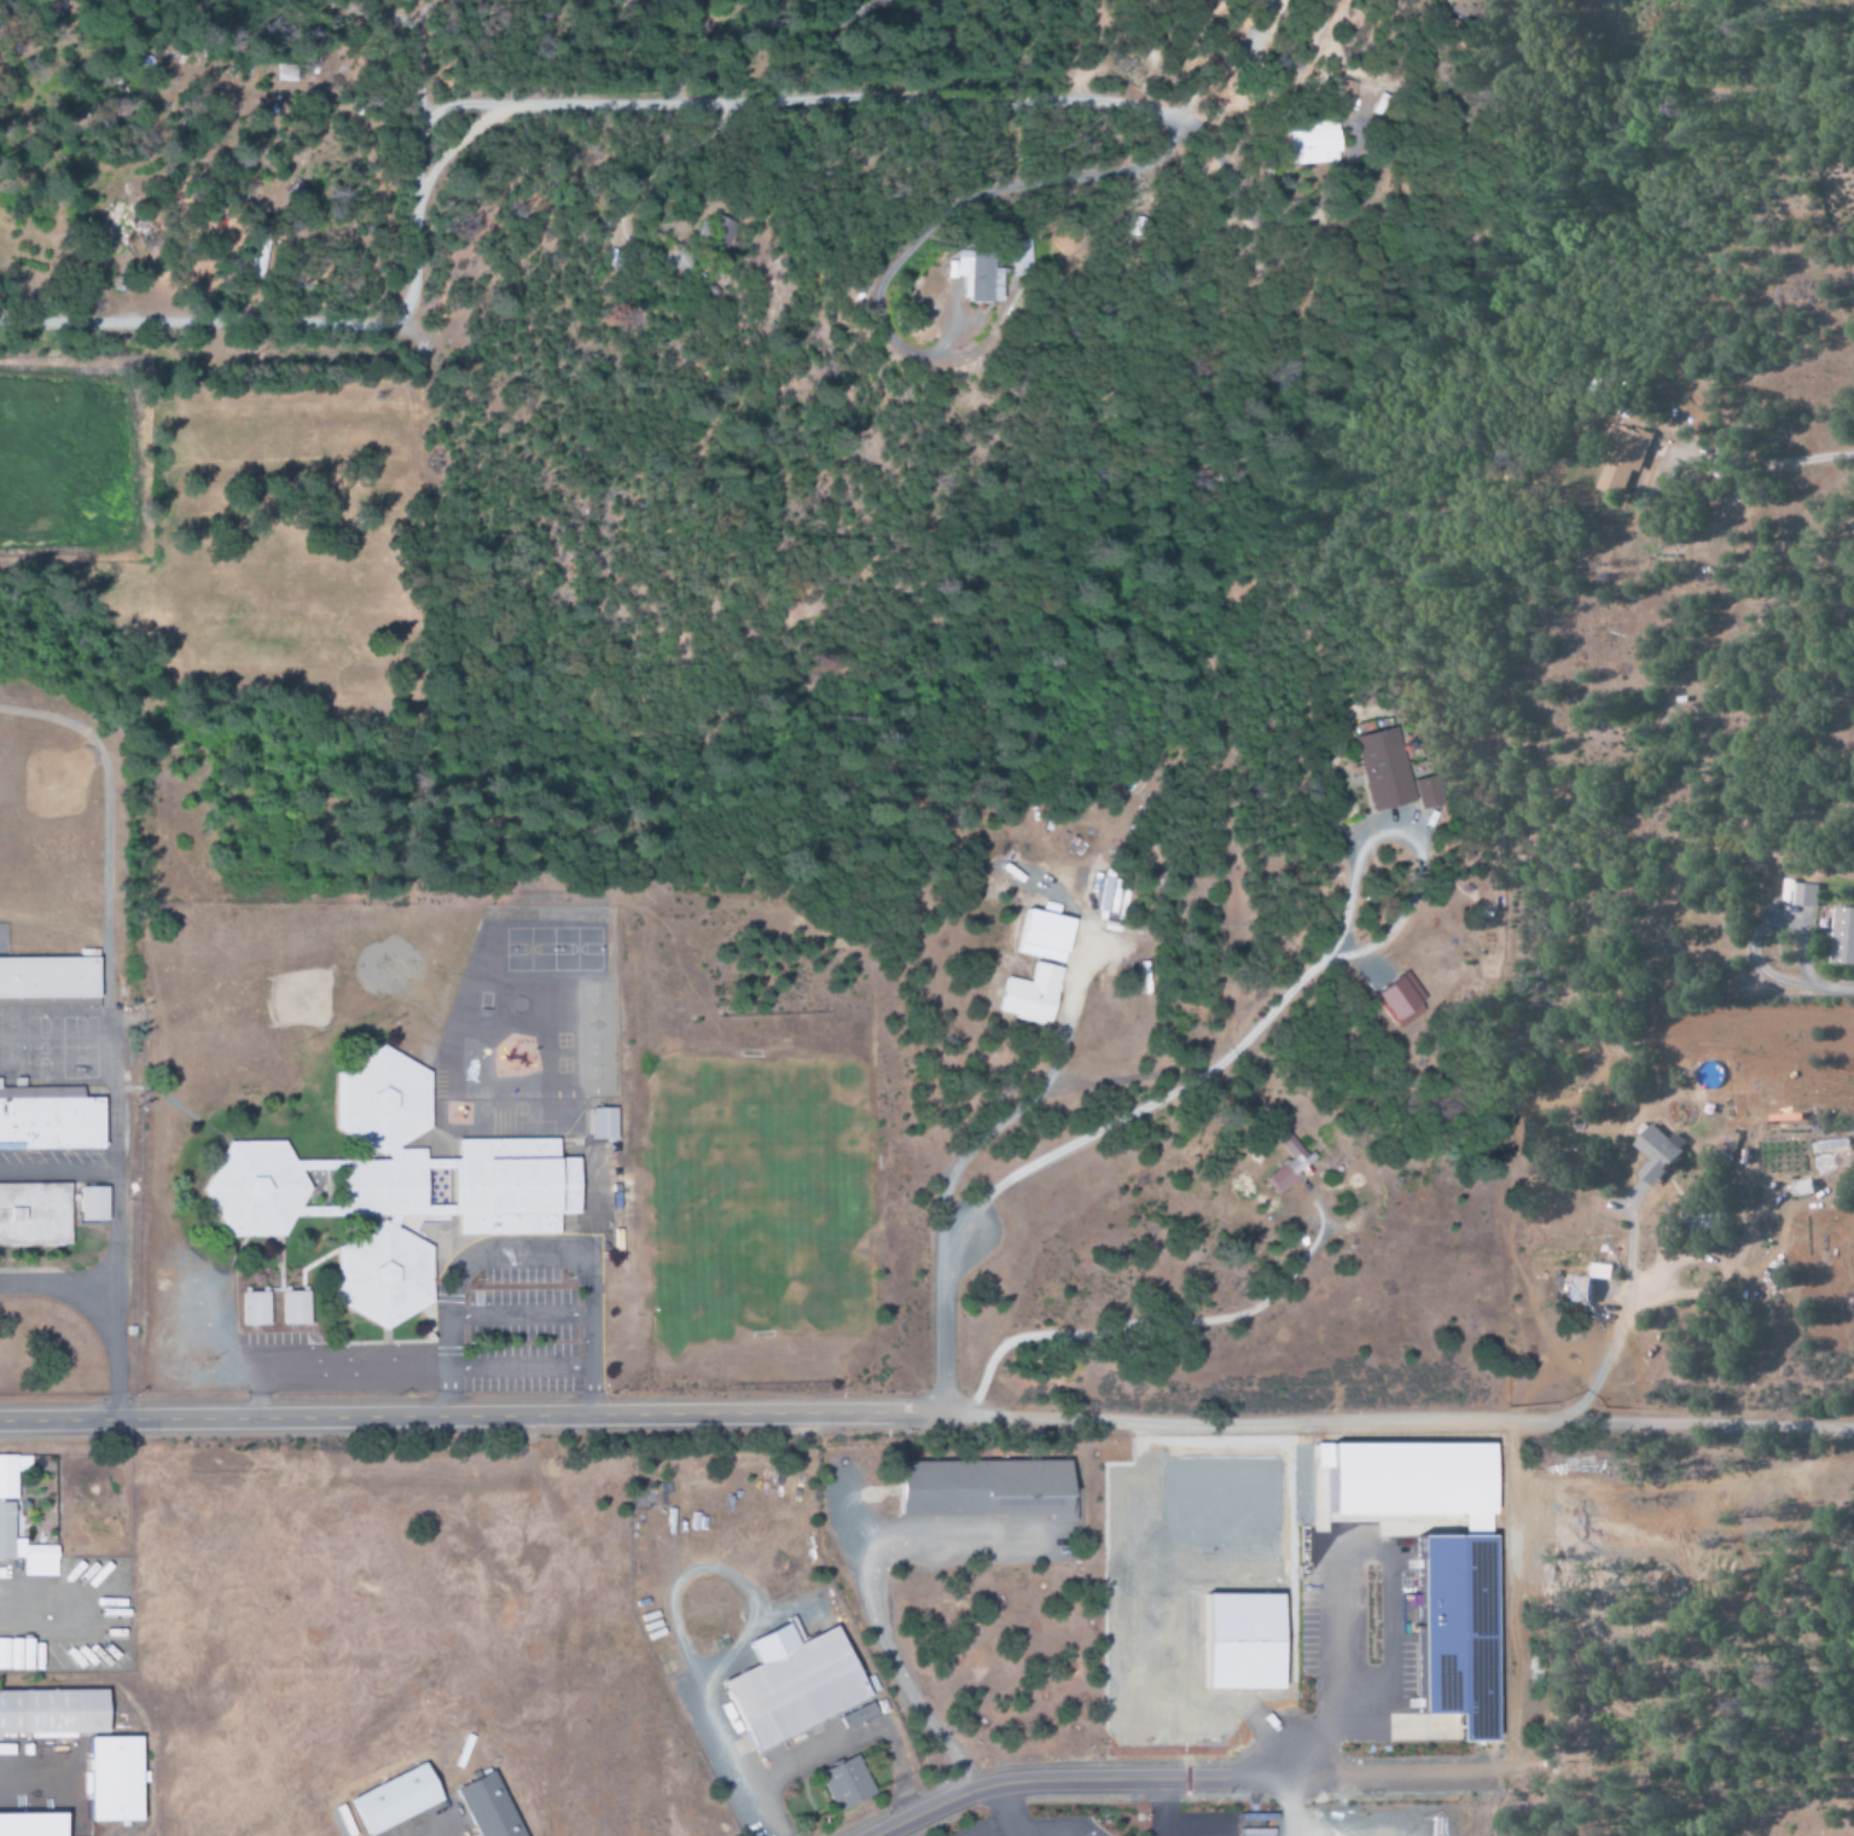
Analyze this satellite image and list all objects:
building: (1327, 95)
road: (496, 105)
building: (1296, 143)
building: (111, 226)
building: (721, 232)
building: (1001, 275)
building: (1618, 459)
building: (1801, 896)
building: (1046, 936)
building: (1841, 937)
building: (48, 977)
building: (1033, 994)
building: (1403, 1000)
road: (111, 1029)
building: (384, 1099)
building: (51, 1122)
building: (604, 1123)
building: (1657, 1154)
building: (1289, 1163)
building: (515, 1185)
building: (258, 1187)
building: (384, 1187)
building: (1803, 1187)
park: (777, 1195)
building: (93, 1203)
building: (35, 1215)
road: (523, 1254)
building: (1603, 1271)
building: (385, 1274)
road: (58, 1280)
building: (1580, 1289)
building: (256, 1308)
building: (296, 1308)
road: (517, 1315)
road: (941, 1320)
parking lot: (522, 1331)
road: (518, 1367)
road: (926, 1414)
building: (11, 1475)
building: (983, 1487)
building: (1062, 1511)
building: (25, 1547)
building: (1464, 1631)
building: (796, 1685)
building: (54, 1713)
building: (859, 1715)
building: (117, 1779)
road: (1082, 1779)
building: (848, 1784)
building: (397, 1800)
building: (493, 1807)
building: (33, 1825)

